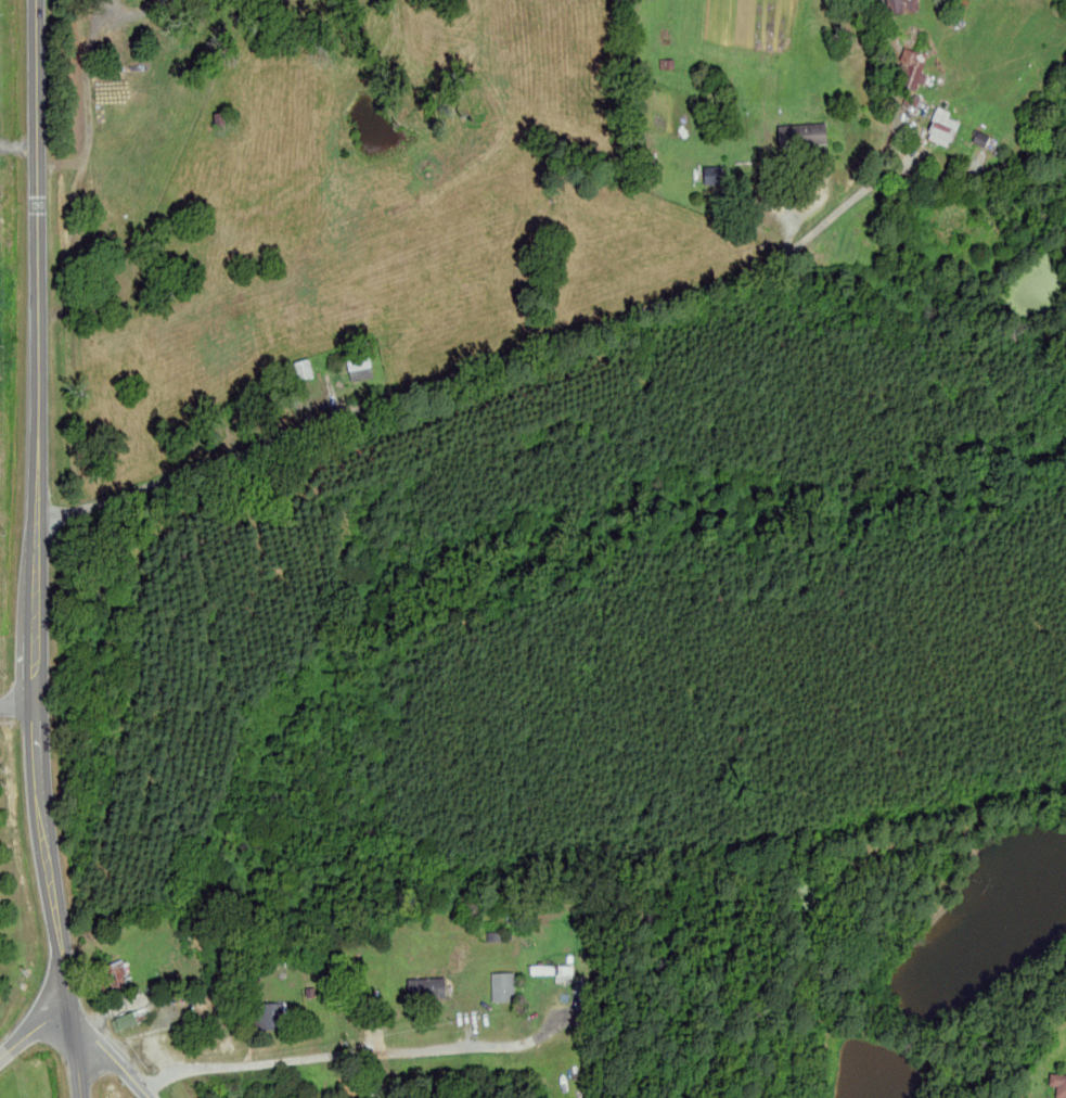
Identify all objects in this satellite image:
building: (899, 5)
building: (910, 71)
building: (213, 119)
building: (943, 126)
building: (804, 133)
building: (981, 138)
building: (715, 174)
crop: (498, 191)
road: (38, 352)
building: (304, 368)
building: (361, 368)
road: (473, 370)
road: (18, 706)
road: (39, 777)
building: (550, 969)
road: (66, 972)
building: (118, 973)
building: (501, 986)
building: (424, 988)
building: (268, 1016)
building: (123, 1020)
road: (34, 1030)
road: (355, 1054)
road: (117, 1060)
building: (1058, 1083)

